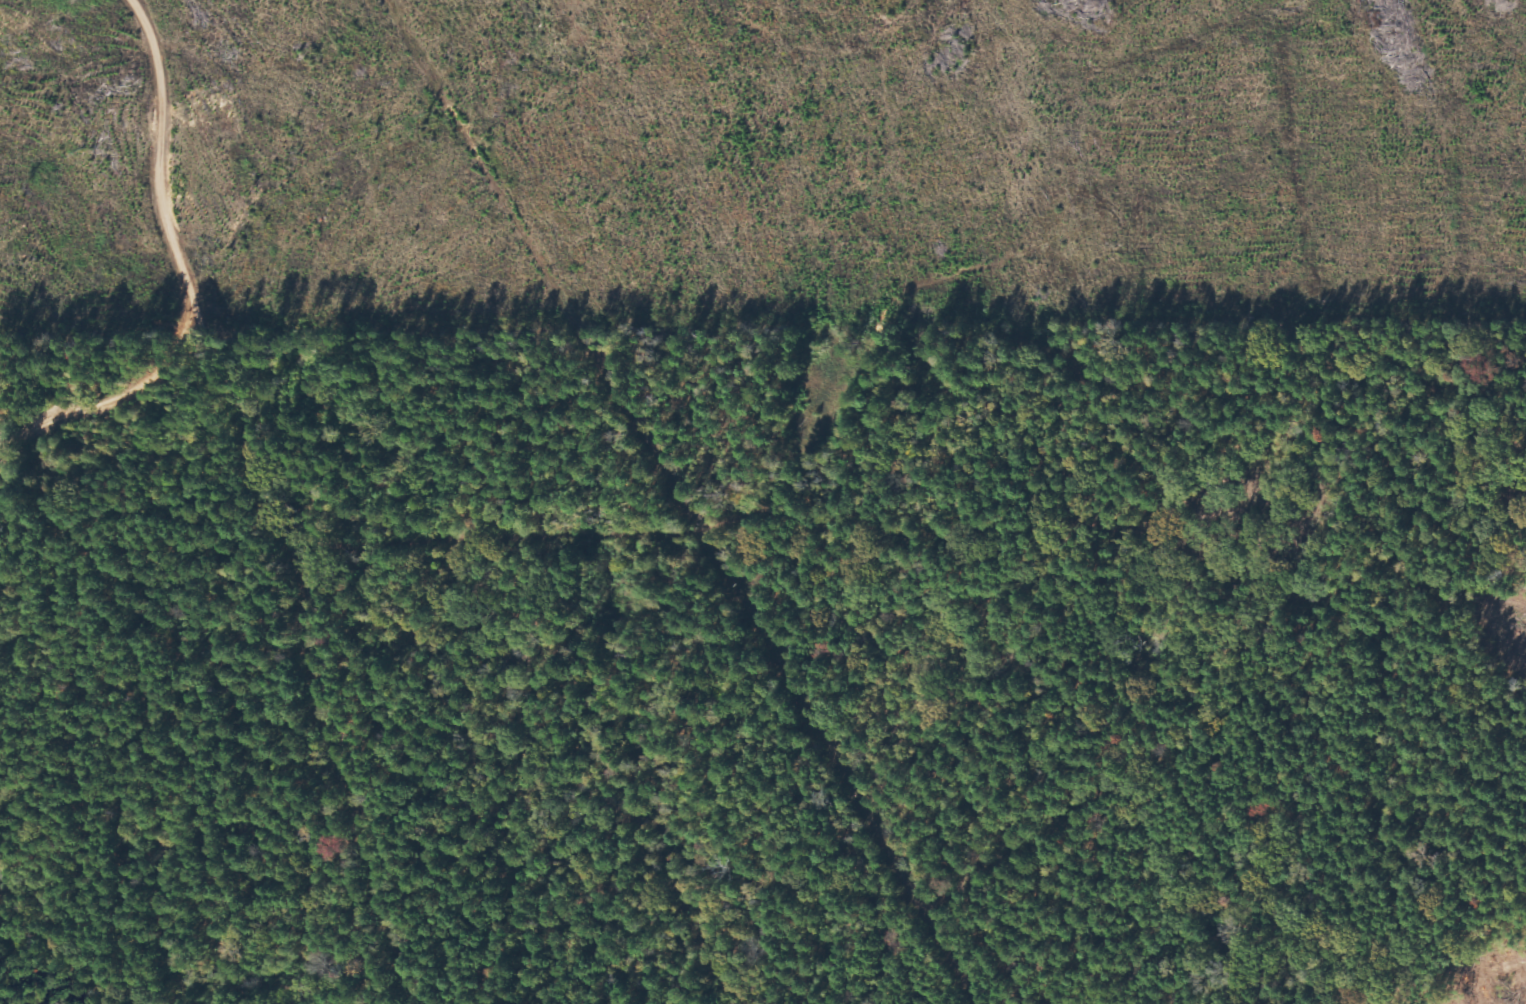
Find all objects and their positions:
road: (271, 499)

